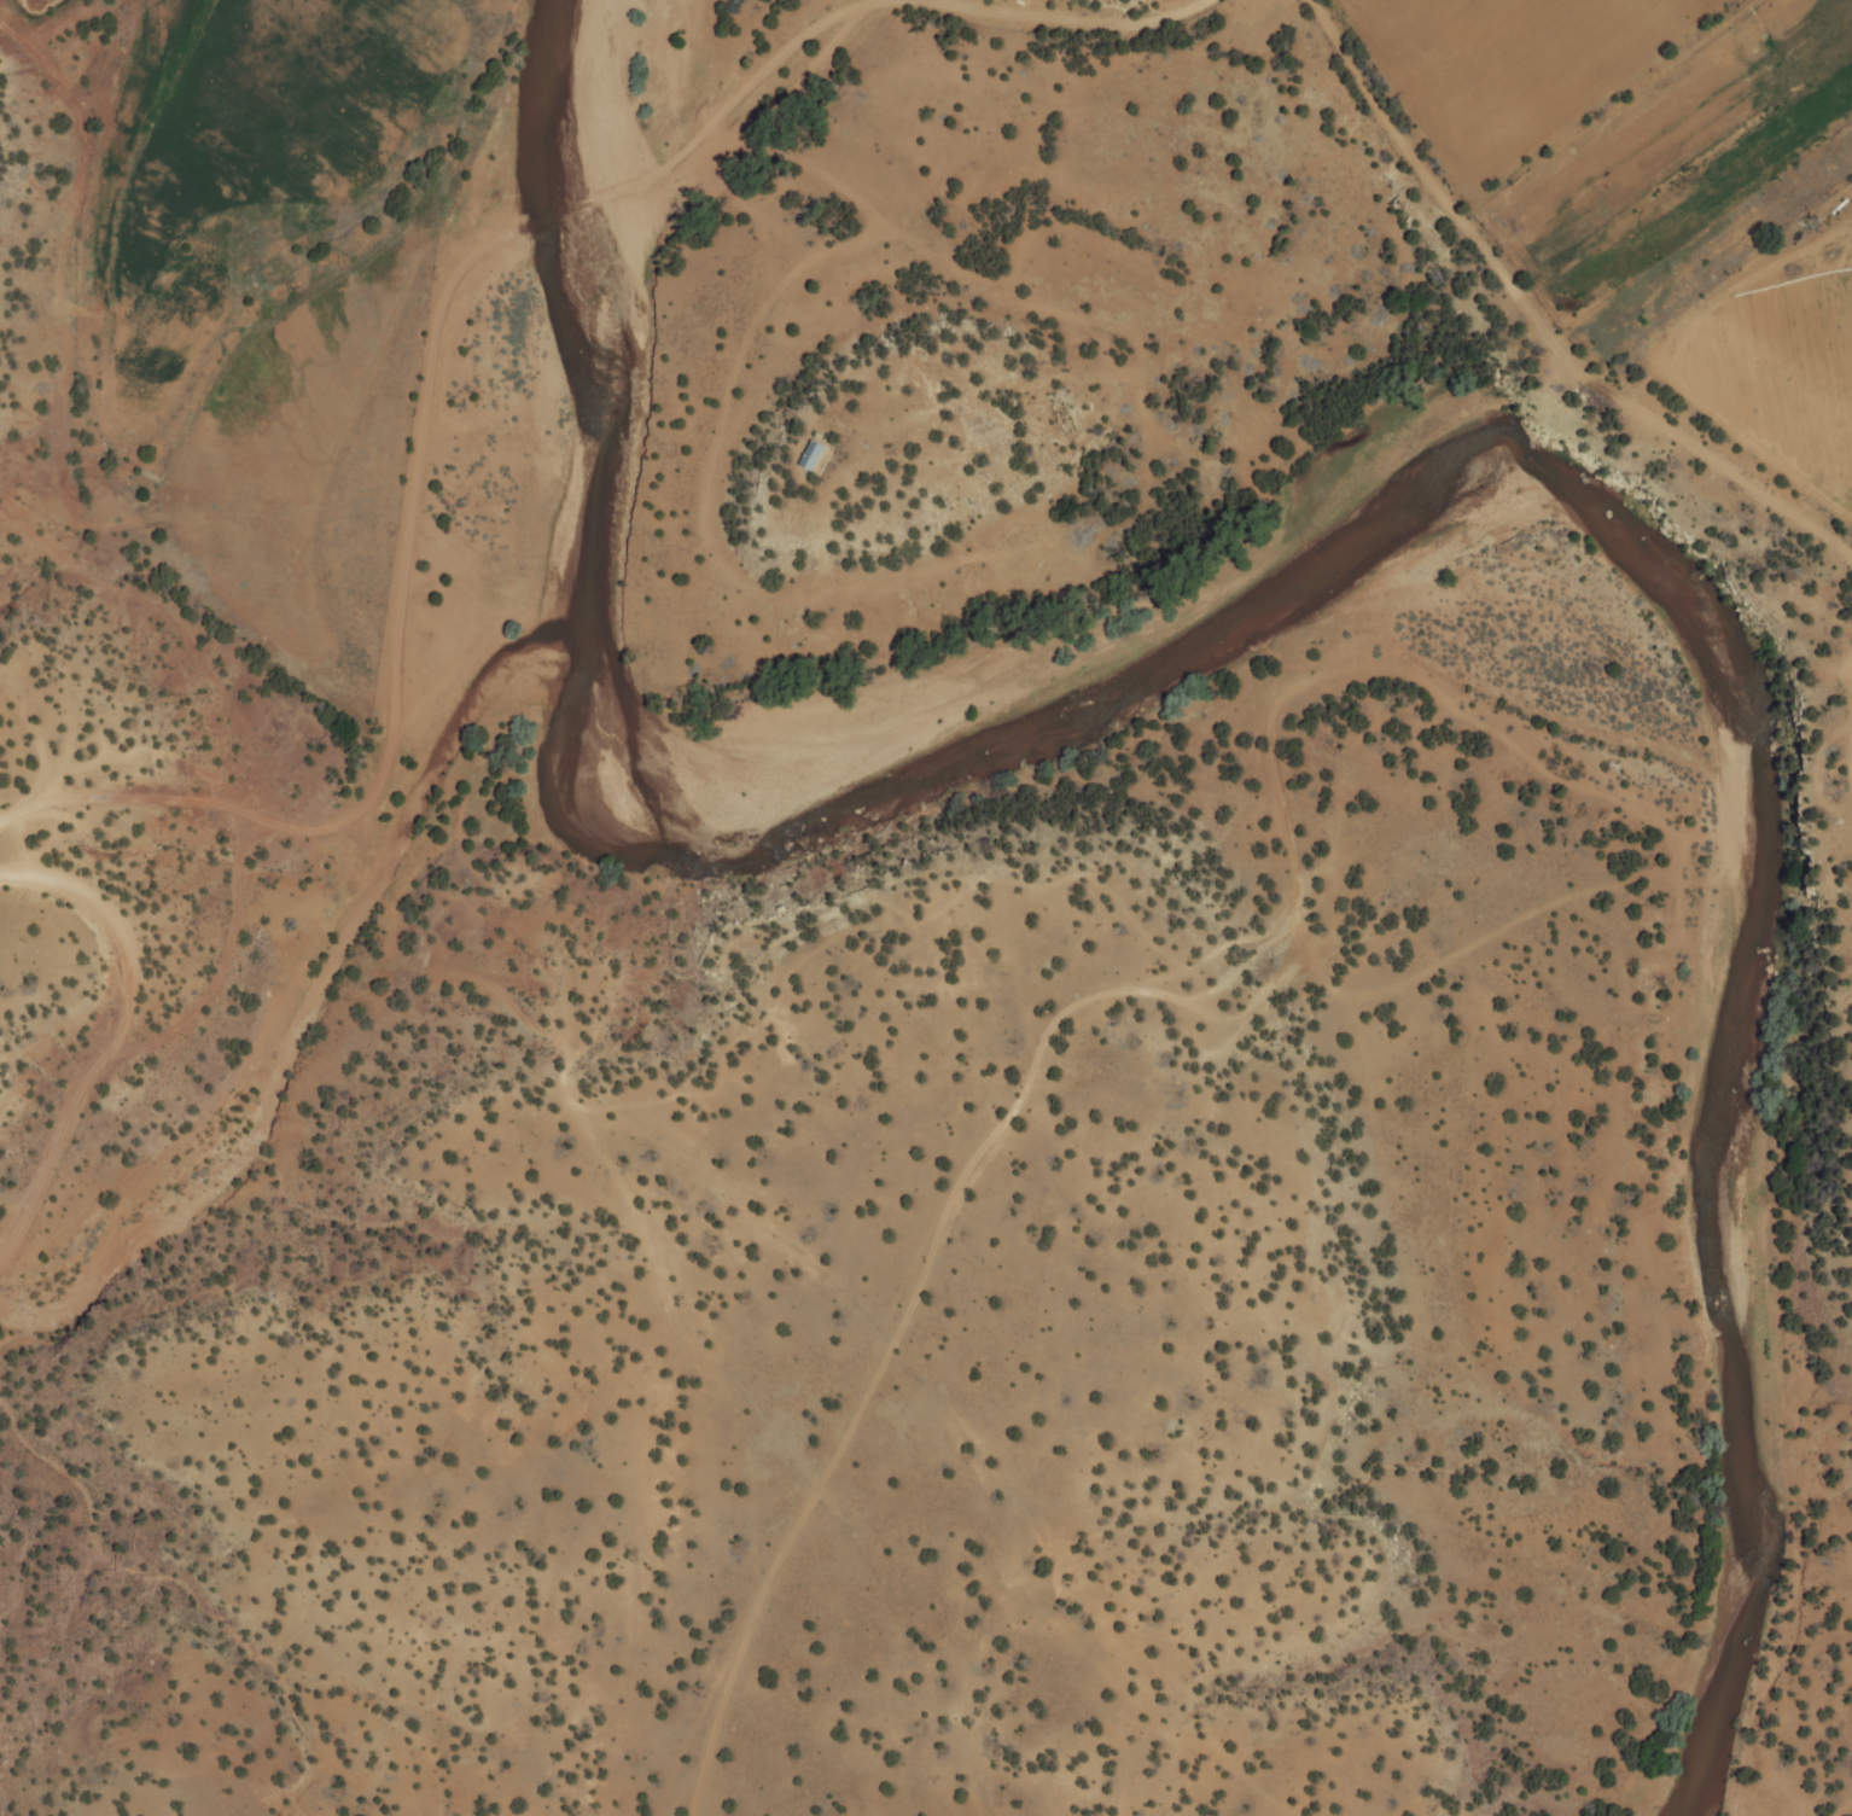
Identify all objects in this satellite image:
road: (1110, 10)
building: (817, 455)
river: (1339, 508)
road: (140, 1005)
road: (915, 1251)

